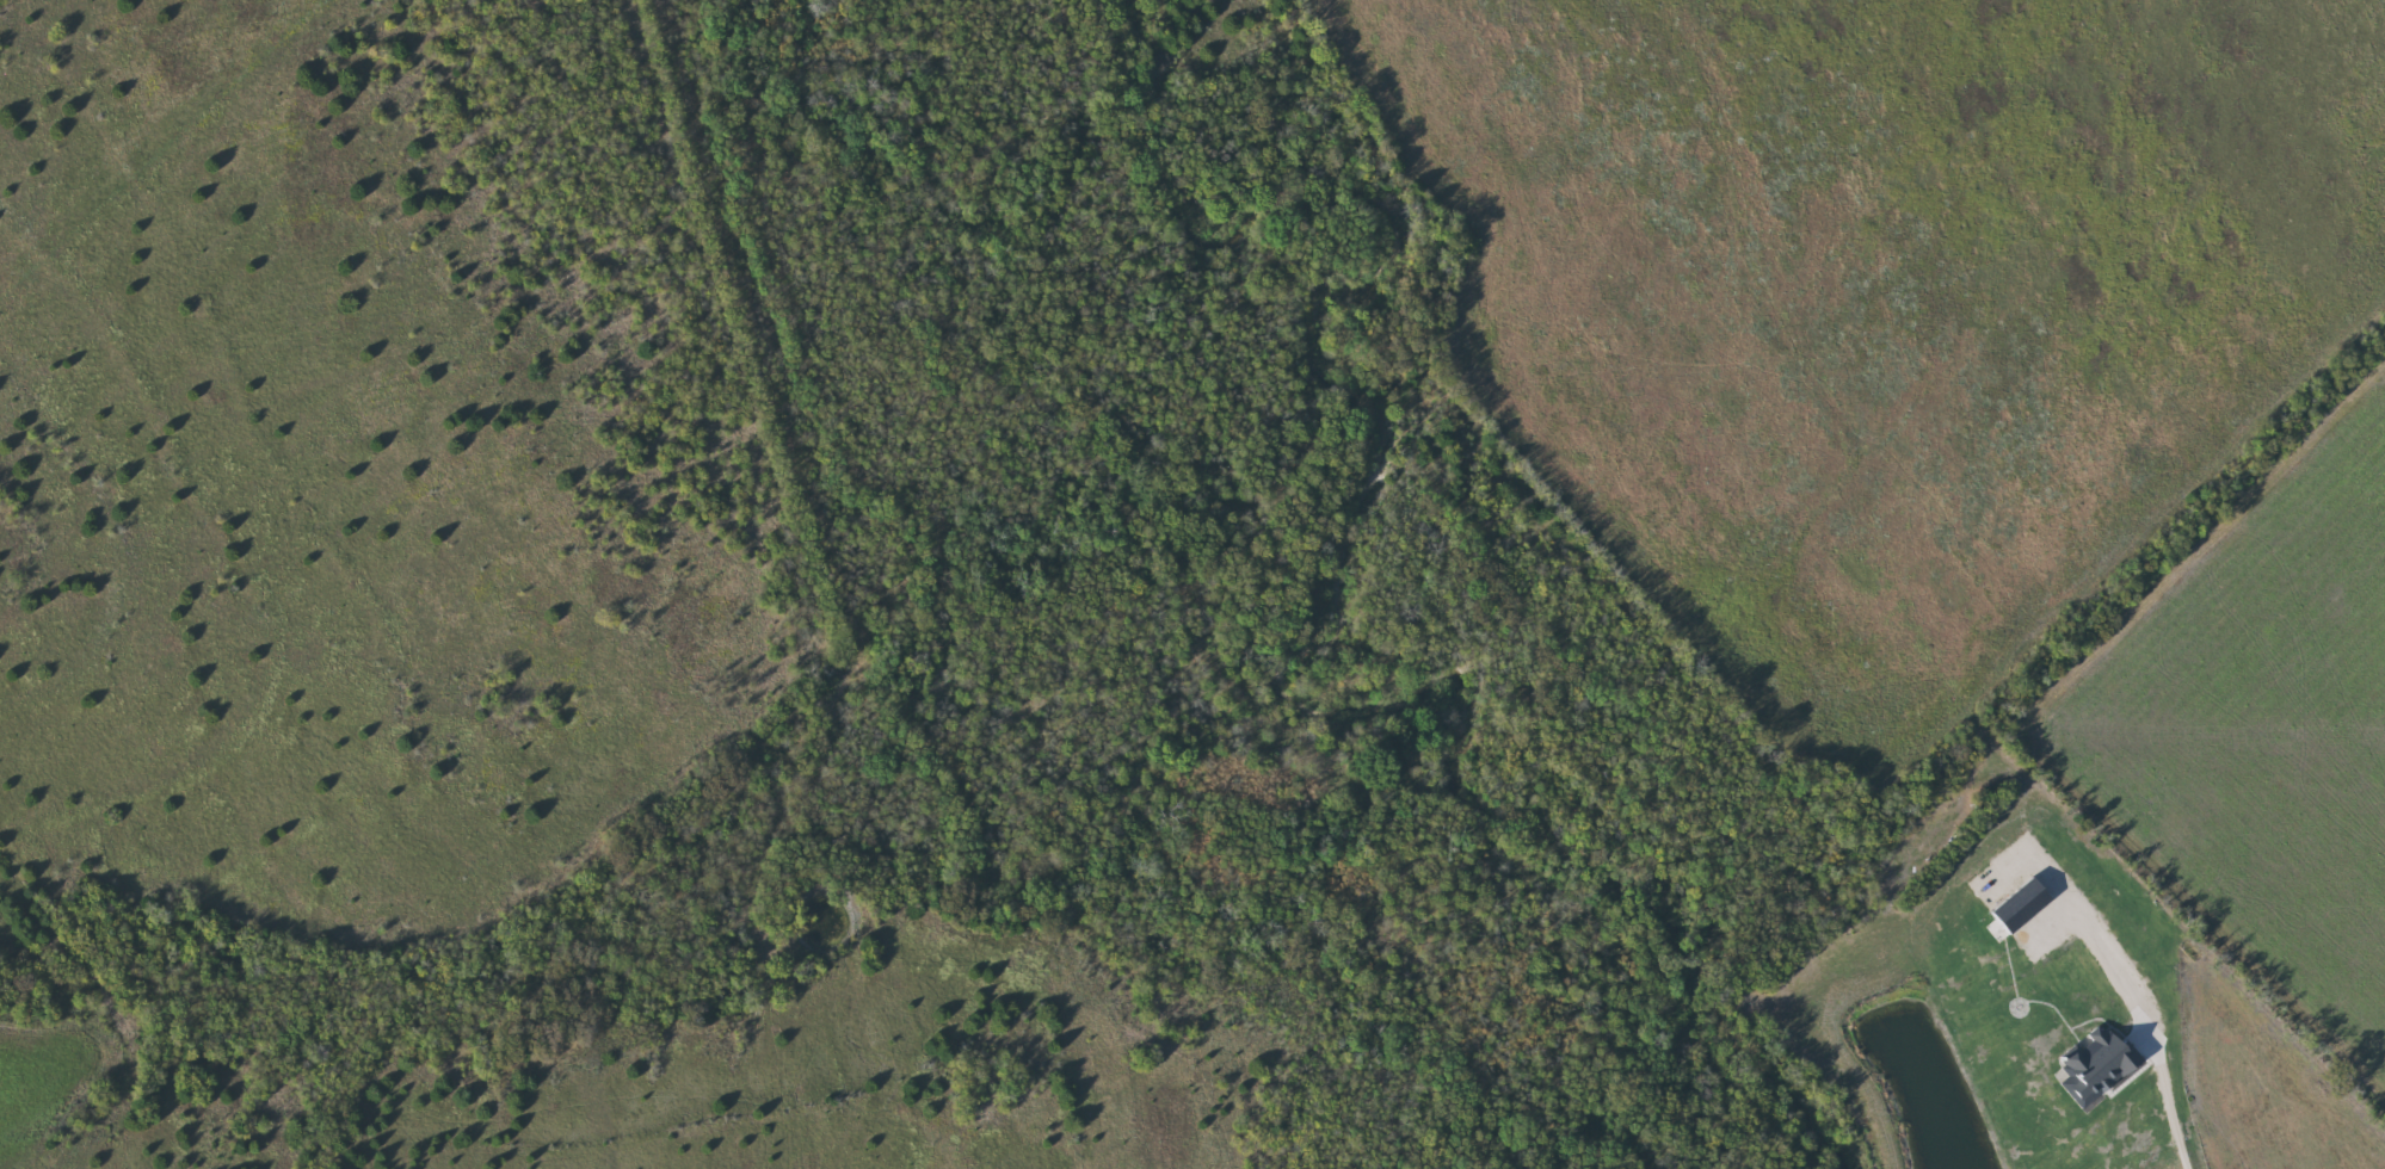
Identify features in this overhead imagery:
road: (2162, 1101)

